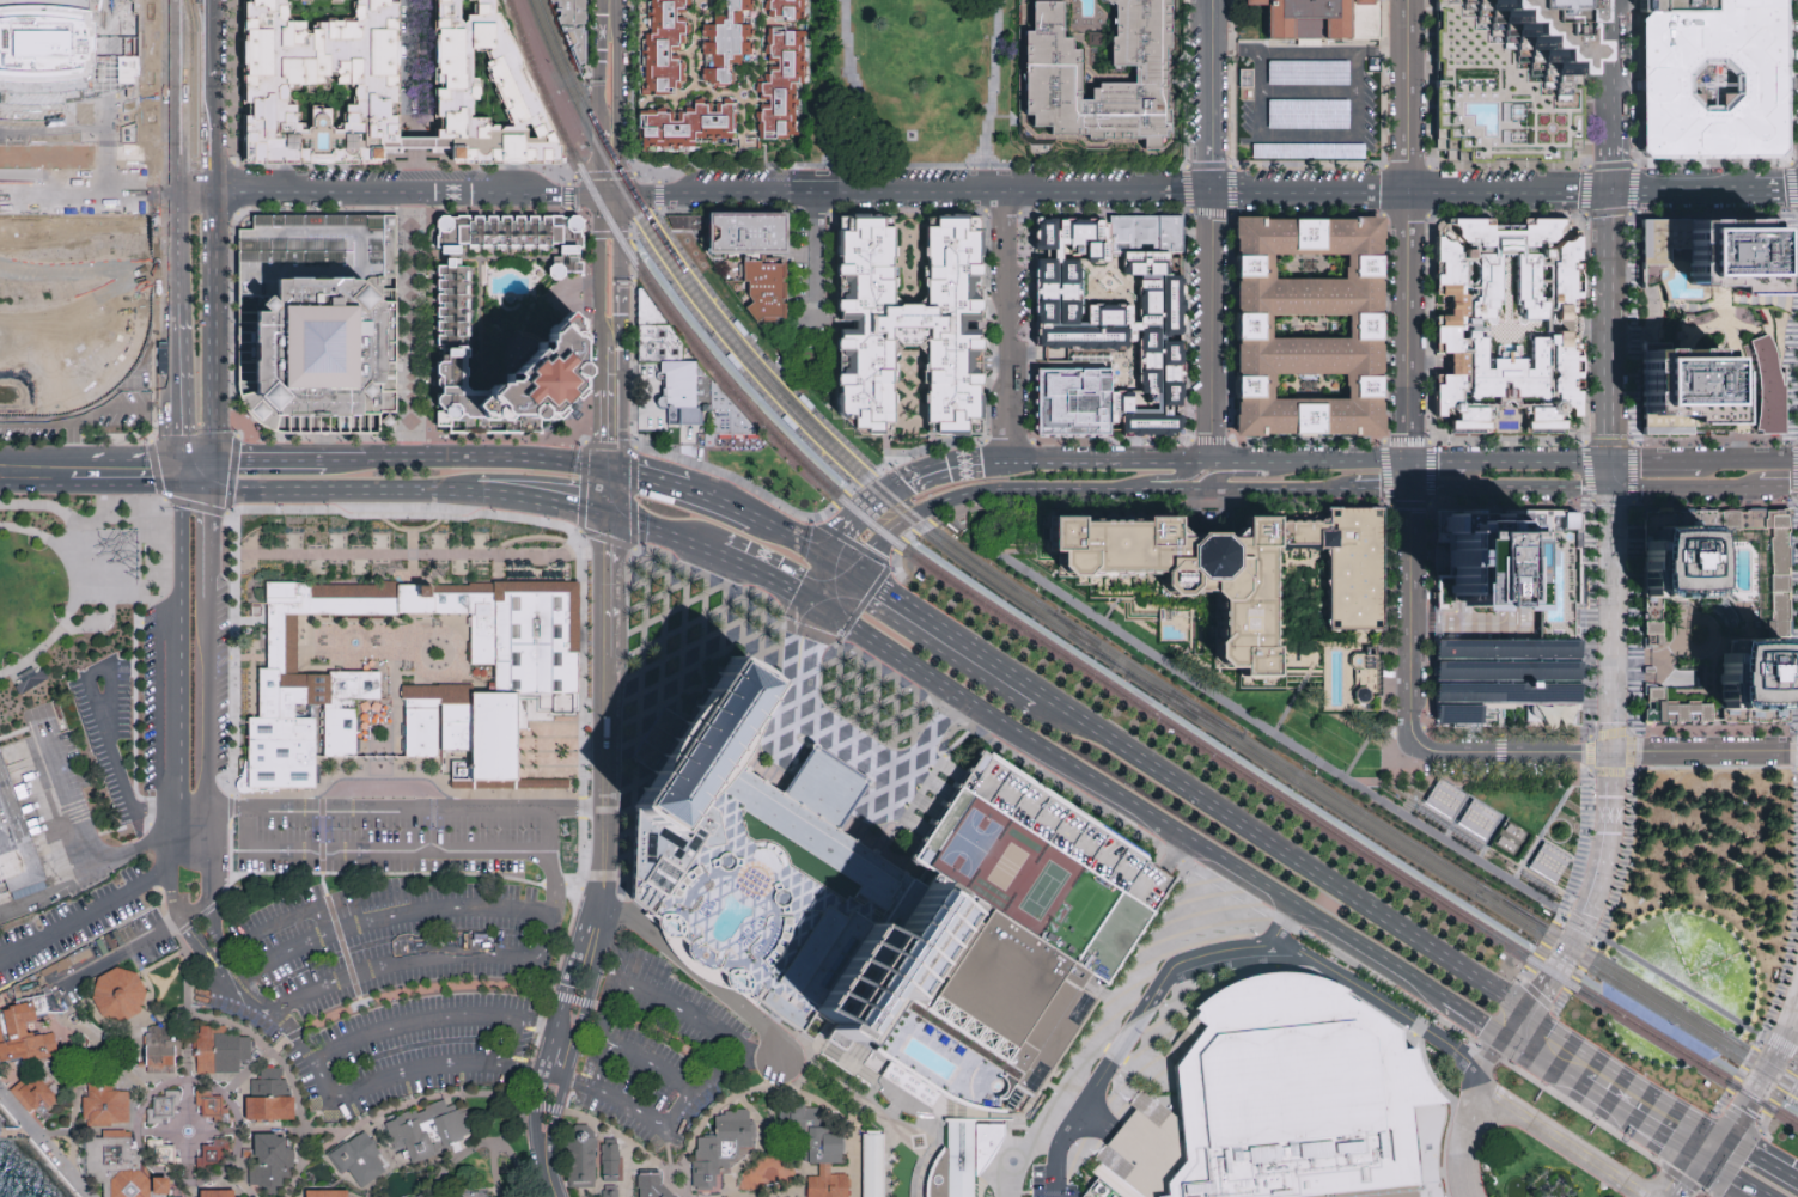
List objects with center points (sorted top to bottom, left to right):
building: (1682, 2)
road: (608, 14)
building: (1321, 19)
building: (574, 26)
road: (590, 36)
road: (208, 37)
road: (852, 41)
building: (50, 47)
road: (1306, 51)
road: (1613, 59)
building: (507, 72)
road: (599, 73)
building: (1049, 73)
building: (719, 74)
building: (1509, 80)
building: (323, 81)
building: (1715, 81)
road: (417, 83)
park: (910, 83)
road: (995, 83)
road: (1208, 93)
road: (1308, 93)
parking lot: (1310, 104)
road: (614, 111)
road: (1306, 134)
road: (211, 135)
road: (427, 140)
road: (1614, 154)
road: (175, 155)
road: (597, 158)
road: (879, 164)
road: (323, 165)
road: (660, 165)
road: (634, 170)
road: (658, 175)
road: (603, 176)
road: (996, 176)
road: (90, 177)
road: (567, 179)
building: (74, 182)
road: (236, 185)
road: (906, 188)
road: (1148, 188)
road: (1766, 188)
road: (1377, 189)
road: (1674, 189)
road: (1580, 190)
road: (372, 195)
road: (567, 195)
road: (672, 195)
road: (193, 196)
road: (566, 196)
road: (658, 196)
road: (609, 197)
traffic signals: (621, 197)
traffic signals: (598, 199)
road: (621, 208)
road: (586, 216)
building: (685, 222)
road: (1407, 231)
building: (1152, 232)
building: (745, 233)
road: (609, 236)
road: (632, 248)
building: (1715, 251)
road: (813, 252)
road: (599, 263)
road: (622, 274)
building: (763, 291)
road: (1794, 301)
road: (1719, 303)
building: (650, 312)
building: (1115, 314)
building: (319, 320)
road: (417, 323)
road: (1006, 324)
road: (1614, 325)
building: (910, 326)
road: (1208, 326)
building: (1364, 326)
road: (211, 328)
building: (1453, 328)
road: (1644, 330)
building: (451, 332)
building: (660, 347)
railway: (744, 348)
road: (754, 348)
road: (735, 362)
road: (731, 370)
railway: (761, 381)
road: (176, 385)
building: (1766, 387)
building: (1683, 390)
building: (688, 391)
road: (609, 398)
building: (1075, 404)
building: (729, 419)
road: (240, 432)
traffic signals: (1614, 435)
road: (589, 445)
road: (475, 459)
road: (1748, 459)
road: (44, 460)
road: (133, 460)
traffic signals: (177, 460)
road: (194, 460)
road: (1540, 460)
traffic signals: (1642, 460)
road: (1654, 460)
traffic signals: (211, 462)
road: (1019, 462)
road: (1437, 462)
road: (268, 463)
road: (347, 463)
road: (1334, 463)
road: (1134, 464)
road: (1221, 464)
road: (1249, 464)
road: (154, 468)
road: (596, 469)
railway: (865, 469)
road: (949, 469)
traffic signals: (608, 471)
road: (233, 472)
road: (177, 474)
road: (1220, 474)
road: (1613, 474)
road: (1169, 475)
road: (1408, 475)
road: (211, 476)
road: (648, 480)
railway: (849, 483)
road: (1683, 485)
road: (1775, 485)
road: (35, 487)
road: (123, 487)
road: (1511, 487)
traffic signals: (1584, 487)
traffic signals: (178, 488)
road: (1383, 488)
road: (194, 489)
road: (1126, 489)
road: (1055, 490)
road: (1169, 490)
road: (1280, 490)
traffic signals: (211, 491)
road: (349, 493)
road: (608, 494)
road: (196, 503)
road: (548, 503)
road: (721, 506)
road: (865, 508)
road: (790, 512)
road: (955, 512)
road: (395, 514)
traffic signals: (608, 518)
road: (81, 520)
road: (892, 529)
road: (571, 530)
road: (662, 536)
road: (792, 538)
road: (412, 539)
road: (211, 545)
building: (1444, 554)
traffic signals: (829, 558)
building: (1513, 563)
building: (1676, 563)
road: (841, 566)
building: (1238, 569)
traffic signals: (853, 573)
road: (764, 578)
road: (819, 581)
building: (1775, 584)
road: (135, 585)
road: (706, 588)
road: (870, 593)
park: (60, 594)
road: (73, 594)
road: (414, 600)
traffic signals: (811, 604)
road: (1315, 609)
road: (822, 610)
road: (1409, 616)
traffic signals: (833, 617)
road: (1611, 618)
building: (1653, 622)
road: (1456, 627)
road: (414, 629)
road: (946, 635)
railway: (1081, 639)
road: (796, 643)
road: (384, 645)
road: (176, 651)
road: (813, 651)
road: (231, 653)
railway: (1060, 654)
road: (1657, 656)
road: (907, 666)
building: (1754, 673)
building: (1504, 676)
building: (1364, 677)
building: (30, 683)
building: (414, 688)
road: (209, 702)
road: (666, 703)
railway: (1187, 708)
building: (1694, 708)
road: (605, 714)
road: (1280, 717)
road: (395, 726)
road: (104, 734)
parking lot: (109, 735)
road: (1276, 735)
road: (907, 745)
road: (1219, 749)
road: (1705, 749)
road: (1514, 750)
traffic signals: (1613, 750)
road: (878, 767)
park: (1367, 767)
road: (1702, 768)
road: (1415, 771)
road: (706, 776)
road: (819, 787)
road: (383, 790)
road: (127, 796)
road: (227, 804)
road: (246, 805)
road: (1608, 805)
road: (68, 806)
road: (578, 806)
building: (1462, 807)
road: (231, 808)
parking lot: (950, 810)
road: (1558, 812)
building: (1511, 835)
building: (16, 839)
park: (965, 842)
road: (1200, 843)
road: (1270, 847)
railway: (1422, 851)
road: (171, 859)
building: (1550, 863)
road: (195, 865)
road: (231, 865)
road: (85, 869)
road: (1203, 872)
railway: (1452, 883)
road: (1572, 883)
road: (547, 888)
park: (1038, 890)
road: (209, 891)
road: (1589, 903)
building: (885, 911)
road: (200, 916)
road: (85, 917)
road: (289, 917)
road: (373, 921)
road: (1721, 921)
road: (1282, 923)
park: (1693, 933)
parking lot: (86, 940)
road: (910, 940)
road: (915, 943)
road: (919, 946)
road: (1235, 946)
road: (181, 948)
road: (906, 948)
parking lot: (394, 949)
road: (910, 951)
road: (612, 953)
road: (118, 954)
road: (202, 954)
road: (914, 954)
road: (901, 955)
toll booth: (225, 957)
road: (226, 958)
road: (906, 958)
road: (422, 960)
toll booth: (617, 963)
road: (1561, 963)
road: (895, 964)
road: (900, 966)
road: (904, 969)
road: (1317, 972)
road: (573, 975)
road: (696, 979)
fountain: (1681, 979)
road: (1428, 984)
road: (1680, 988)
building: (118, 995)
road: (543, 995)
road: (1537, 996)
road: (1538, 997)
road: (1119, 1002)
road: (1513, 1006)
road: (681, 1010)
road: (1474, 1016)
road: (433, 1021)
road: (529, 1022)
road: (1419, 1024)
road: (1658, 1024)
road: (1517, 1027)
building: (1196, 1028)
road: (244, 1031)
building: (24, 1033)
road: (575, 1036)
road: (103, 1040)
road: (189, 1040)
road: (1101, 1042)
road: (1532, 1042)
road: (1772, 1043)
fountain: (1646, 1044)
road: (1116, 1051)
building: (158, 1052)
road: (1529, 1052)
building: (221, 1054)
parking lot: (654, 1054)
road: (1491, 1054)
road: (307, 1055)
road: (1492, 1057)
road: (546, 1058)
road: (1130, 1059)
road: (1748, 1061)
road: (443, 1067)
toll booth: (514, 1068)
road: (528, 1070)
road: (1610, 1070)
road: (1564, 1074)
road: (1759, 1079)
road: (876, 1083)
road: (767, 1086)
road: (367, 1087)
road: (685, 1089)
building: (1293, 1094)
building: (36, 1097)
road: (1776, 1098)
road: (1603, 1099)
building: (270, 1100)
road: (429, 1100)
railway: (1792, 1103)
building: (105, 1105)
road: (1787, 1105)
building: (213, 1106)
road: (74, 1110)
building: (164, 1111)
road: (1580, 1113)
road: (317, 1114)
road: (845, 1116)
road: (534, 1117)
road: (970, 1118)
road: (1633, 1118)
road: (1098, 1119)
road: (1738, 1120)
building: (0, 1124)
road: (699, 1124)
road: (98, 1129)
fountain: (188, 1131)
road: (1707, 1131)
pier: (11, 1132)
building: (433, 1132)
road: (1659, 1134)
road: (1463, 1136)
traffic signals: (1718, 1137)
road: (179, 1138)
road: (1562, 1141)
building: (985, 1142)
road: (486, 1143)
road: (386, 1144)
road: (1730, 1144)
road: (42, 1146)
road: (493, 1147)
road: (666, 1147)
building: (817, 1147)
road: (1041, 1148)
road: (1708, 1148)
building: (721, 1149)
building: (1147, 1153)
road: (1692, 1153)
road: (1747, 1153)
building: (164, 1156)
building: (214, 1156)
building: (1427, 1158)
traffic signals: (1700, 1159)
building: (584, 1160)
building: (360, 1161)
building: (614, 1162)
building: (273, 1164)
building: (953, 1164)
road: (1709, 1164)
road: (1733, 1164)
building: (873, 1166)
building: (126, 1167)
road: (796, 1167)
road: (154, 1168)
road: (188, 1168)
road: (404, 1168)
road: (1774, 1168)
road: (653, 1169)
road: (1723, 1172)
road: (337, 1174)
road: (1056, 1174)
road: (1677, 1178)
road: (1684, 1178)
road: (546, 1179)
parking lot: (1052, 1181)
road: (239, 1184)
road: (1737, 1185)
road: (1747, 1185)
building: (652, 1186)
building: (1107, 1186)
building: (614, 1192)
building: (477, 1193)
building: (219, 1195)
building: (330, 1195)
road: (797, 1195)
road: (1701, 1195)
building: (244, 1196)

